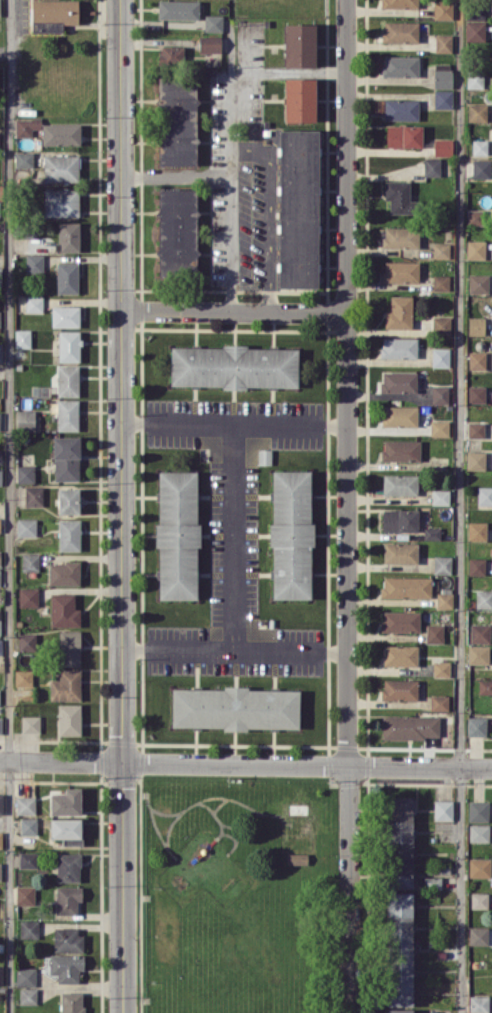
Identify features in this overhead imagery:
building: (400, 3)
building: (178, 9)
building: (443, 9)
building: (53, 14)
building: (213, 22)
building: (474, 30)
building: (400, 31)
building: (443, 43)
building: (209, 44)
building: (299, 45)
building: (171, 54)
building: (399, 66)
building: (442, 75)
building: (475, 79)
building: (442, 98)
building: (299, 99)
building: (400, 109)
building: (477, 112)
building: (177, 121)
building: (26, 126)
building: (60, 134)
building: (403, 135)
road: (232, 136)
building: (442, 146)
building: (479, 147)
building: (23, 159)
building: (60, 167)
building: (431, 167)
building: (480, 168)
road: (176, 175)
building: (398, 197)
building: (61, 202)
building: (297, 208)
road: (269, 216)
building: (475, 216)
building: (176, 230)
building: (68, 236)
building: (400, 237)
building: (475, 249)
building: (441, 250)
building: (33, 263)
building: (400, 271)
building: (0, 276)
building: (66, 277)
building: (440, 282)
building: (478, 283)
building: (34, 304)
building: (399, 312)
road: (234, 313)
building: (65, 316)
building: (441, 325)
building: (476, 325)
building: (22, 338)
building: (68, 346)
building: (398, 347)
building: (0, 352)
building: (440, 357)
building: (476, 360)
building: (233, 366)
building: (67, 380)
building: (398, 381)
road: (348, 382)
building: (440, 394)
building: (476, 394)
building: (67, 414)
building: (399, 416)
building: (25, 419)
building: (0, 420)
road: (235, 422)
building: (439, 427)
building: (475, 429)
building: (400, 450)
building: (264, 456)
building: (66, 458)
building: (475, 460)
building: (25, 473)
building: (1, 475)
building: (400, 484)
building: (484, 495)
building: (33, 496)
building: (440, 496)
building: (67, 500)
road: (9, 506)
road: (122, 506)
road: (461, 506)
building: (400, 519)
building: (26, 526)
building: (476, 531)
building: (431, 533)
building: (69, 534)
building: (291, 534)
building: (177, 535)
road: (235, 536)
building: (400, 552)
building: (0, 557)
building: (30, 562)
building: (442, 564)
building: (476, 566)
building: (64, 573)
building: (0, 577)
building: (406, 587)
building: (28, 597)
building: (483, 599)
building: (444, 600)
building: (63, 610)
building: (400, 621)
building: (0, 622)
building: (434, 632)
building: (479, 633)
building: (26, 642)
building: (1, 646)
building: (69, 648)
road: (235, 649)
building: (478, 654)
building: (400, 655)
building: (441, 668)
building: (23, 677)
building: (66, 685)
building: (485, 686)
building: (399, 689)
building: (439, 702)
building: (235, 708)
building: (68, 719)
building: (0, 724)
building: (30, 724)
building: (476, 725)
building: (410, 727)
road: (245, 764)
building: (66, 802)
building: (1, 803)
building: (25, 805)
building: (297, 809)
building: (443, 809)
building: (477, 810)
building: (28, 826)
building: (66, 830)
building: (478, 833)
building: (0, 839)
building: (400, 842)
building: (297, 858)
building: (28, 859)
building: (68, 867)
building: (479, 867)
building: (0, 870)
road: (348, 889)
park: (236, 893)
building: (25, 894)
building: (67, 899)
building: (478, 900)
building: (28, 928)
building: (478, 935)
building: (67, 939)
building: (400, 949)
building: (66, 966)
building: (1, 975)
building: (25, 976)
building: (28, 995)
building: (71, 1002)
building: (478, 1003)
building: (400, 1010)

